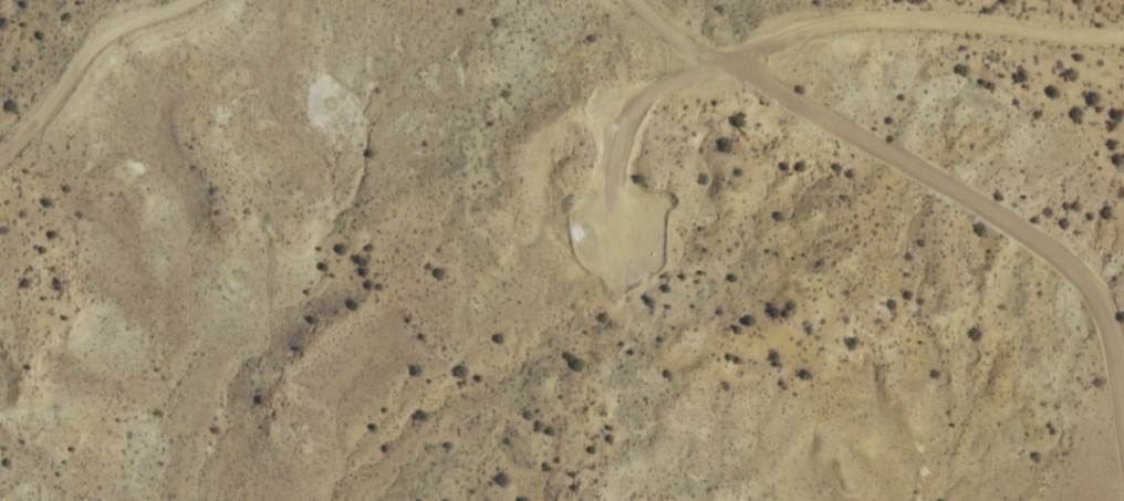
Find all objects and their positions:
road: (872, 12)
road: (82, 62)

